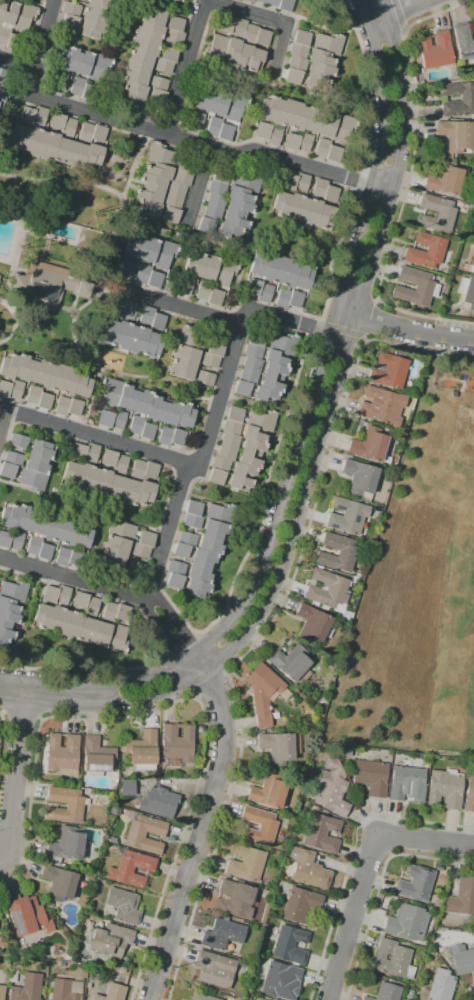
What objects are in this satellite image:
building: (82, 0)
building: (175, 0)
building: (277, 4)
road: (395, 12)
building: (17, 14)
building: (70, 15)
building: (154, 17)
building: (95, 18)
road: (269, 18)
building: (175, 24)
building: (244, 30)
building: (149, 31)
building: (175, 37)
building: (9, 39)
building: (464, 40)
building: (145, 46)
building: (436, 49)
building: (233, 53)
building: (169, 54)
building: (313, 59)
building: (139, 61)
road: (16, 64)
building: (163, 65)
road: (185, 67)
building: (84, 70)
building: (135, 75)
building: (3, 76)
building: (59, 80)
building: (158, 83)
road: (279, 88)
building: (134, 90)
building: (3, 96)
building: (156, 97)
building: (467, 98)
building: (204, 99)
building: (219, 103)
building: (235, 107)
building: (268, 108)
building: (283, 112)
building: (26, 115)
building: (312, 119)
building: (57, 121)
building: (196, 121)
road: (8, 124)
building: (327, 124)
building: (295, 125)
building: (214, 126)
building: (68, 127)
building: (342, 128)
building: (262, 130)
building: (35, 132)
building: (85, 132)
road: (159, 132)
building: (225, 132)
building: (98, 133)
building: (455, 135)
building: (274, 136)
building: (19, 137)
building: (304, 142)
building: (48, 146)
building: (322, 147)
building: (63, 150)
building: (78, 153)
building: (333, 154)
building: (93, 155)
building: (161, 155)
building: (185, 165)
building: (159, 171)
building: (221, 175)
building: (182, 177)
building: (445, 179)
road: (200, 181)
building: (247, 181)
building: (288, 181)
building: (153, 182)
building: (301, 182)
road: (407, 184)
building: (217, 188)
building: (319, 188)
building: (176, 189)
building: (331, 194)
building: (150, 195)
building: (240, 195)
building: (172, 201)
building: (216, 201)
building: (281, 203)
road: (124, 206)
building: (239, 207)
building: (148, 208)
building: (296, 208)
building: (310, 212)
building: (212, 213)
building: (436, 214)
building: (171, 215)
building: (325, 216)
building: (235, 220)
building: (206, 225)
building: (229, 230)
road: (248, 233)
building: (133, 245)
building: (148, 250)
building: (425, 250)
building: (164, 253)
building: (194, 263)
building: (259, 264)
building: (472, 264)
building: (209, 267)
building: (125, 268)
building: (273, 269)
building: (288, 271)
building: (225, 272)
building: (143, 273)
building: (303, 276)
building: (154, 279)
building: (48, 282)
building: (185, 285)
building: (253, 286)
building: (415, 286)
building: (203, 291)
building: (467, 291)
building: (265, 293)
building: (215, 297)
building: (282, 298)
building: (295, 299)
road: (374, 300)
road: (181, 307)
building: (116, 309)
road: (8, 310)
building: (129, 310)
road: (98, 312)
building: (146, 315)
road: (366, 319)
building: (158, 321)
road: (319, 328)
road: (404, 329)
road: (340, 330)
building: (108, 332)
road: (9, 335)
building: (123, 335)
road: (363, 337)
building: (191, 338)
building: (257, 338)
building: (138, 340)
building: (284, 344)
building: (152, 345)
building: (216, 348)
building: (253, 351)
building: (186, 355)
building: (276, 358)
building: (210, 360)
building: (8, 366)
building: (23, 367)
building: (182, 369)
building: (250, 370)
building: (387, 370)
building: (38, 371)
building: (275, 371)
building: (53, 376)
building: (205, 378)
building: (68, 381)
building: (271, 383)
building: (82, 385)
building: (242, 388)
building: (4, 389)
building: (16, 390)
building: (111, 391)
building: (452, 393)
building: (33, 395)
building: (265, 395)
building: (126, 397)
building: (45, 401)
road: (90, 401)
building: (141, 401)
building: (62, 406)
building: (382, 406)
road: (3, 407)
building: (75, 407)
building: (155, 408)
road: (216, 410)
building: (170, 412)
building: (235, 414)
building: (185, 415)
building: (105, 418)
road: (3, 420)
building: (119, 420)
building: (261, 420)
building: (136, 425)
building: (231, 427)
building: (148, 431)
road: (298, 433)
building: (254, 434)
road: (97, 436)
building: (165, 436)
building: (178, 437)
building: (19, 441)
building: (369, 444)
building: (229, 446)
building: (253, 447)
building: (40, 449)
road: (315, 450)
building: (78, 452)
building: (91, 453)
building: (109, 458)
building: (14, 459)
building: (249, 459)
building: (37, 464)
building: (120, 464)
building: (220, 464)
building: (138, 469)
building: (151, 470)
building: (8, 471)
building: (243, 471)
building: (71, 475)
building: (217, 477)
building: (86, 478)
building: (360, 479)
building: (33, 480)
building: (100, 483)
building: (240, 483)
building: (115, 488)
building: (130, 492)
building: (145, 493)
building: (193, 508)
building: (220, 513)
building: (9, 516)
building: (347, 516)
building: (24, 518)
building: (192, 521)
building: (39, 523)
building: (53, 528)
building: (121, 528)
building: (215, 529)
building: (68, 532)
building: (82, 536)
building: (147, 538)
building: (5, 539)
building: (187, 539)
building: (16, 540)
building: (211, 544)
building: (117, 545)
building: (34, 546)
building: (140, 550)
building: (181, 550)
building: (45, 552)
building: (347, 554)
building: (62, 556)
building: (74, 558)
building: (204, 558)
building: (113, 559)
building: (176, 568)
building: (135, 569)
building: (200, 573)
building: (175, 581)
road: (107, 588)
building: (197, 588)
building: (327, 589)
building: (14, 591)
building: (50, 594)
building: (63, 595)
park: (443, 595)
building: (80, 599)
building: (9, 606)
building: (91, 606)
building: (109, 611)
building: (122, 613)
building: (42, 616)
building: (8, 619)
road: (271, 619)
building: (57, 620)
road: (22, 624)
building: (314, 624)
building: (72, 625)
building: (86, 630)
building: (7, 632)
building: (101, 634)
building: (117, 639)
road: (179, 641)
building: (4, 642)
road: (222, 645)
building: (291, 663)
road: (85, 666)
road: (175, 675)
road: (213, 691)
building: (263, 692)
road: (186, 699)
building: (275, 715)
road: (21, 718)
road: (2, 733)
building: (177, 745)
building: (279, 747)
building: (142, 751)
building: (62, 754)
building: (97, 755)
road: (16, 770)
building: (371, 777)
building: (407, 784)
building: (127, 788)
building: (332, 788)
building: (445, 789)
building: (268, 792)
building: (470, 793)
building: (158, 802)
building: (74, 805)
building: (115, 811)
road: (202, 825)
building: (259, 826)
building: (136, 833)
building: (322, 833)
road: (425, 840)
building: (66, 844)
road: (351, 854)
building: (245, 863)
building: (130, 867)
building: (438, 868)
building: (308, 869)
building: (59, 883)
building: (416, 883)
road: (378, 887)
building: (461, 898)
building: (234, 899)
building: (436, 901)
building: (48, 904)
building: (300, 904)
building: (123, 905)
building: (26, 915)
road: (352, 917)
building: (404, 922)
building: (0, 933)
building: (222, 934)
building: (110, 940)
building: (290, 945)
building: (392, 959)
building: (462, 959)
building: (214, 969)
building: (121, 970)
building: (13, 976)
building: (281, 981)
building: (438, 986)
building: (27, 988)
building: (65, 989)
building: (2, 992)
building: (386, 992)
building: (112, 993)
building: (224, 995)
building: (201, 997)
building: (228, 998)
building: (260, 999)
building: (270, 999)

